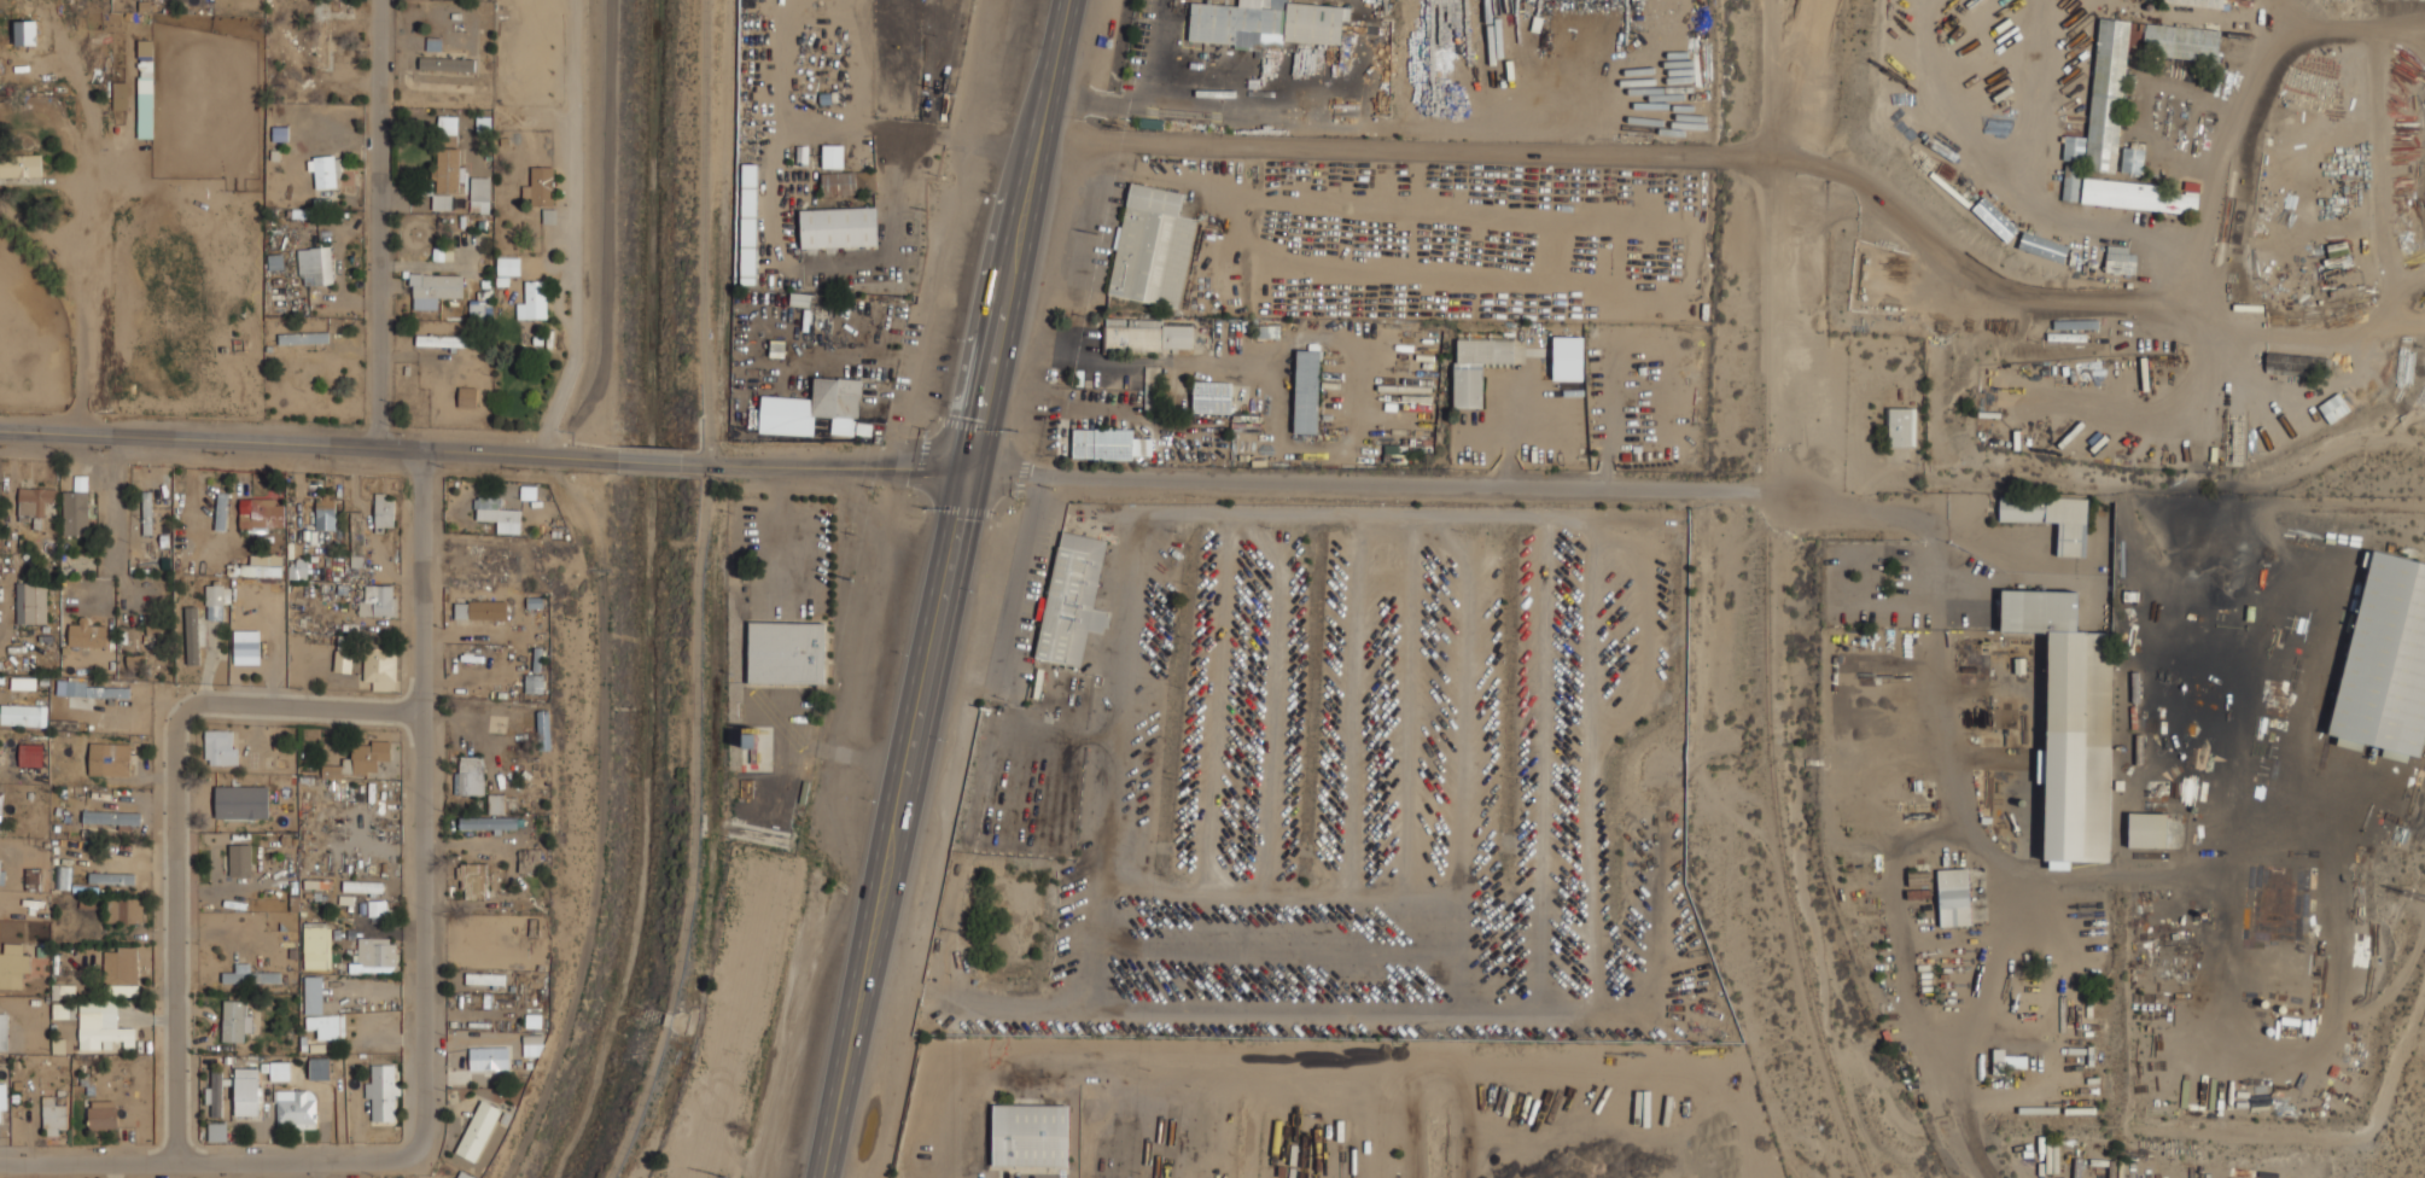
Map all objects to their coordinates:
building: (2198, 2)
building: (1265, 23)
building: (25, 31)
building: (321, 37)
building: (2163, 39)
building: (447, 63)
building: (145, 71)
building: (2106, 94)
building: (118, 95)
building: (447, 124)
road: (1399, 146)
building: (2074, 148)
building: (833, 154)
building: (2132, 161)
building: (21, 165)
building: (325, 170)
building: (447, 174)
building: (849, 181)
building: (2071, 182)
building: (538, 187)
building: (479, 193)
building: (2140, 196)
road: (385, 223)
building: (748, 223)
building: (839, 227)
road: (576, 229)
building: (1152, 246)
building: (2042, 246)
building: (314, 264)
building: (2121, 264)
building: (508, 266)
road: (1966, 275)
building: (436, 285)
road: (86, 298)
building: (534, 299)
building: (480, 309)
building: (806, 317)
building: (1147, 334)
building: (303, 338)
building: (444, 340)
building: (1568, 357)
building: (1476, 367)
building: (1306, 391)
building: (467, 396)
building: (1212, 397)
building: (816, 408)
building: (2333, 408)
building: (1900, 427)
road: (309, 443)
building: (1108, 444)
road: (655, 461)
road: (833, 466)
road: (1364, 485)
road: (115, 501)
building: (33, 502)
building: (75, 507)
building: (221, 511)
road: (1847, 511)
building: (252, 512)
building: (146, 513)
building: (325, 513)
building: (384, 513)
building: (497, 513)
building: (2051, 518)
road: (783, 527)
building: (356, 538)
building: (258, 565)
building: (297, 567)
road: (946, 589)
road: (699, 594)
railway: (1767, 595)
building: (1072, 599)
building: (377, 600)
building: (216, 601)
building: (30, 602)
building: (484, 608)
building: (86, 632)
building: (192, 635)
building: (155, 636)
building: (249, 646)
building: (786, 651)
building: (537, 652)
building: (343, 659)
building: (379, 666)
building: (2380, 669)
building: (491, 678)
building: (23, 683)
building: (534, 683)
building: (93, 689)
road: (295, 712)
building: (23, 715)
building: (543, 731)
building: (221, 746)
road: (827, 748)
building: (2070, 748)
building: (30, 754)
building: (110, 758)
building: (361, 759)
road: (785, 772)
building: (468, 775)
building: (228, 786)
building: (241, 801)
building: (0, 803)
road: (418, 804)
building: (496, 804)
building: (111, 817)
building: (488, 823)
building: (2146, 829)
building: (239, 858)
building: (527, 859)
building: (2, 870)
building: (62, 877)
building: (111, 877)
building: (34, 879)
building: (473, 880)
building: (363, 886)
building: (1953, 897)
building: (377, 908)
building: (123, 909)
building: (527, 926)
building: (477, 933)
road: (173, 939)
building: (316, 945)
building: (375, 952)
building: (518, 958)
building: (12, 964)
building: (121, 969)
building: (249, 975)
building: (484, 978)
building: (314, 995)
building: (2030, 1002)
building: (234, 1020)
building: (101, 1024)
building: (326, 1025)
building: (4, 1031)
building: (489, 1057)
building: (2007, 1060)
building: (319, 1068)
building: (279, 1071)
building: (383, 1091)
building: (246, 1094)
building: (216, 1095)
building: (296, 1109)
building: (53, 1114)
building: (101, 1114)
building: (0, 1118)
building: (478, 1130)
building: (216, 1131)
building: (1030, 1135)
road: (205, 1165)

